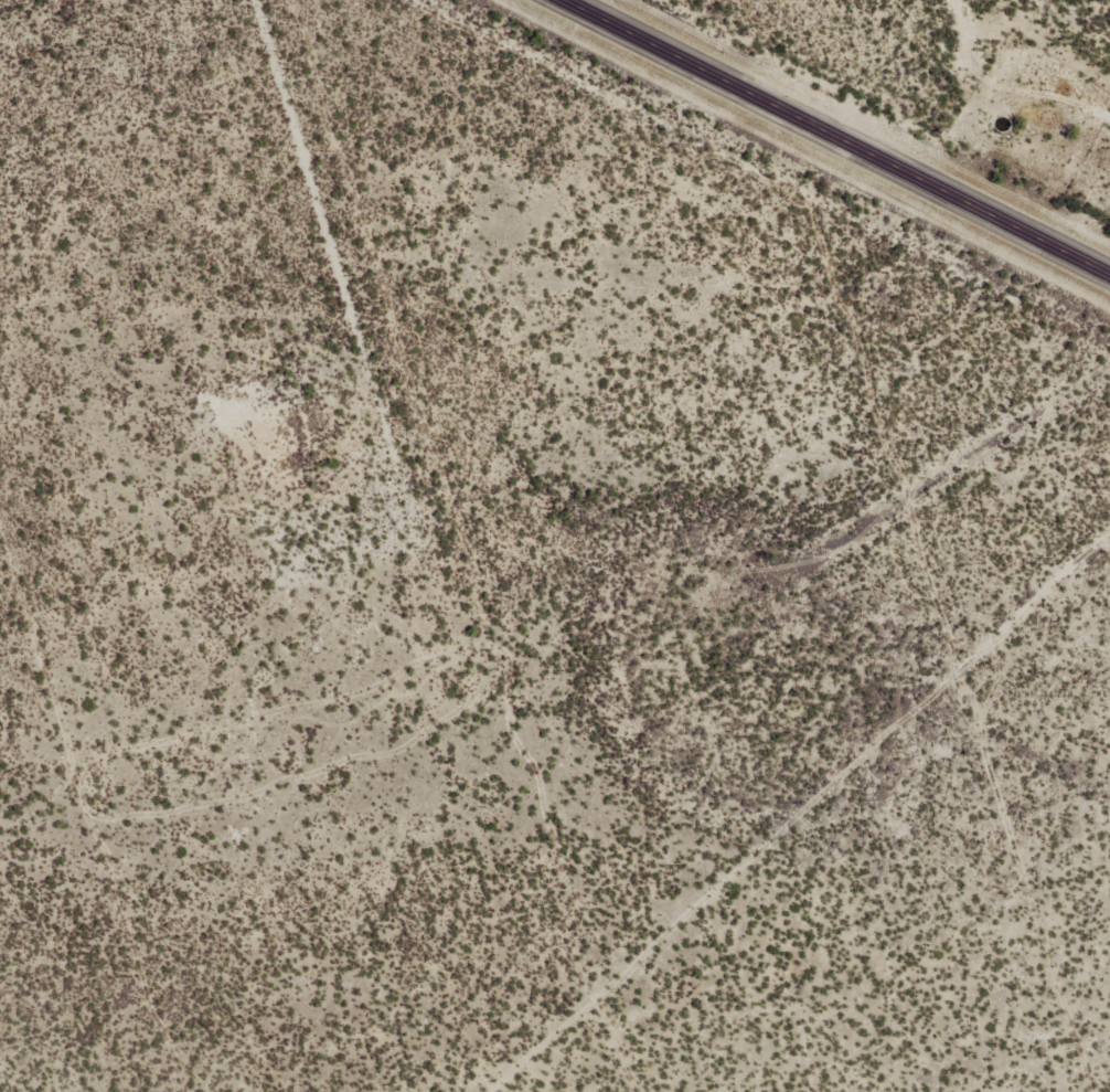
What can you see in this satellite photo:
road: (1104, 4)
road: (828, 136)
road: (375, 287)

